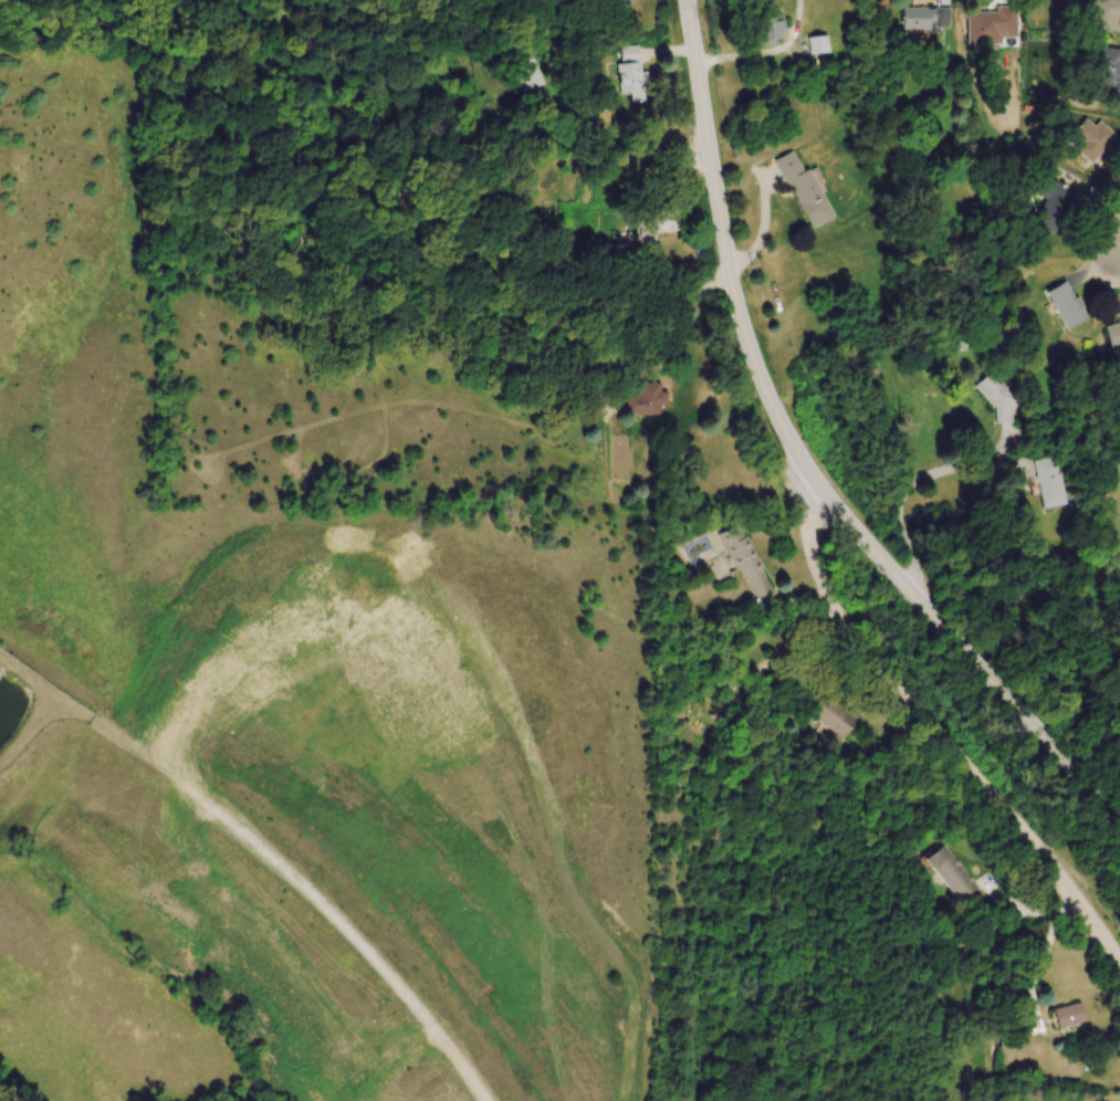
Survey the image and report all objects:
building: (1100, 15)
building: (927, 20)
building: (992, 28)
building: (768, 32)
building: (816, 46)
building: (488, 49)
road: (764, 51)
building: (530, 75)
building: (632, 75)
building: (1101, 77)
building: (1095, 140)
building: (805, 190)
building: (1057, 203)
building: (646, 235)
road: (1117, 256)
building: (1068, 306)
road: (635, 319)
building: (1114, 337)
building: (648, 400)
road: (803, 459)
building: (1051, 484)
road: (902, 492)
road: (928, 722)
building: (952, 873)
building: (1068, 1015)

